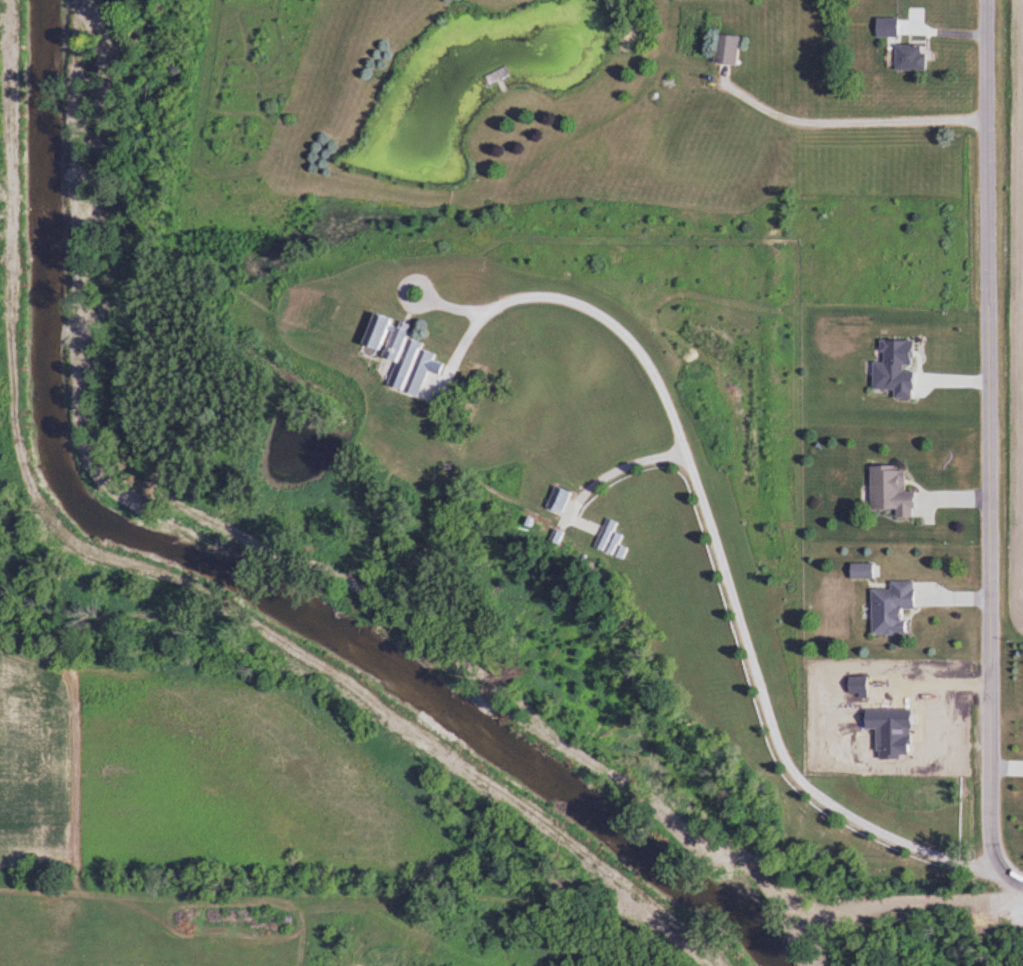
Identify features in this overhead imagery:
building: (884, 27)
building: (724, 50)
building: (908, 56)
building: (375, 333)
road: (985, 452)
road: (603, 465)
building: (887, 490)
building: (608, 541)
road: (706, 559)
building: (888, 608)

